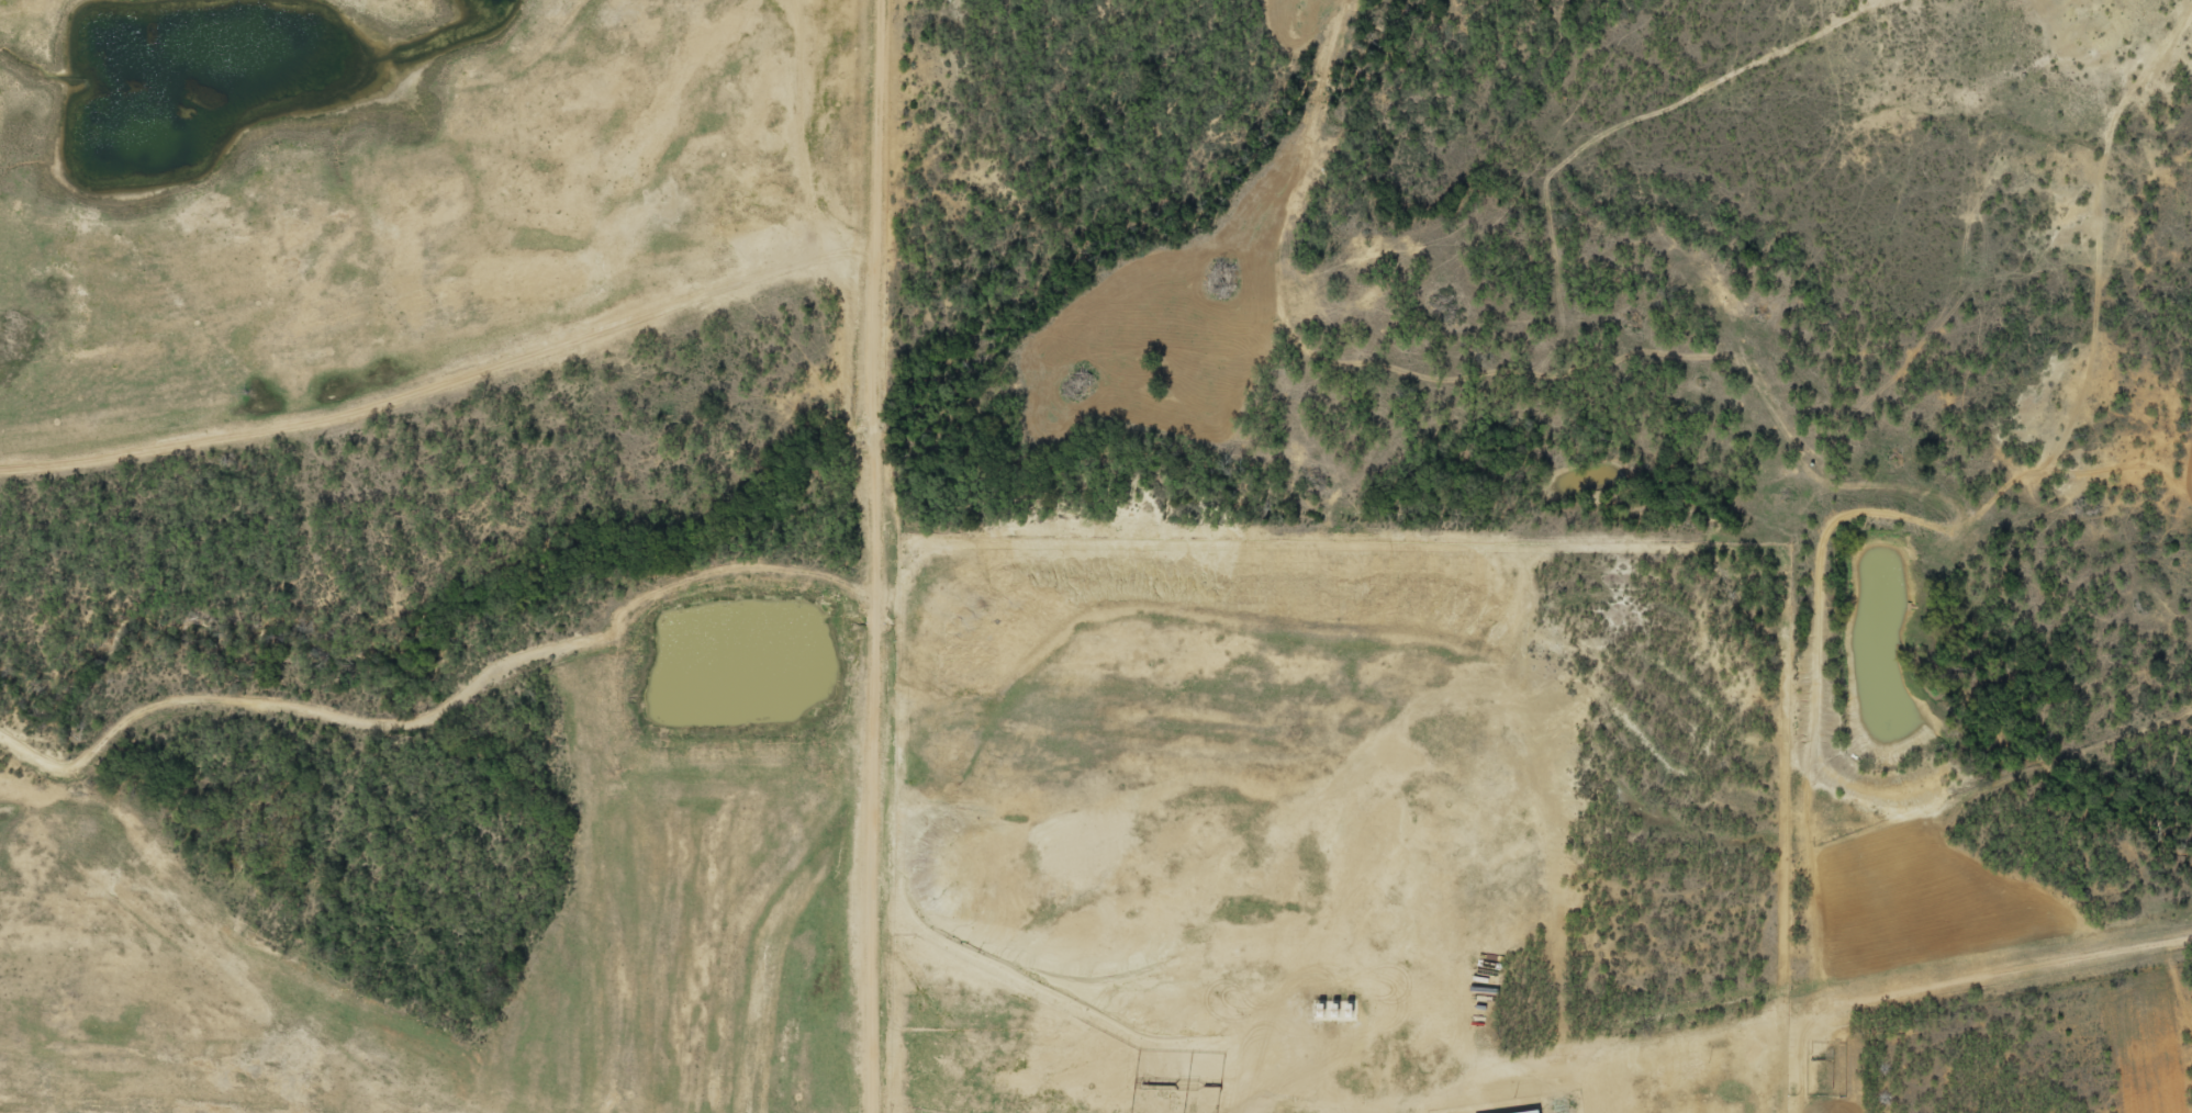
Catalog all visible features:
road: (897, 554)
road: (504, 690)
road: (1816, 1012)
building: (1273, 1056)
building: (1184, 1065)

